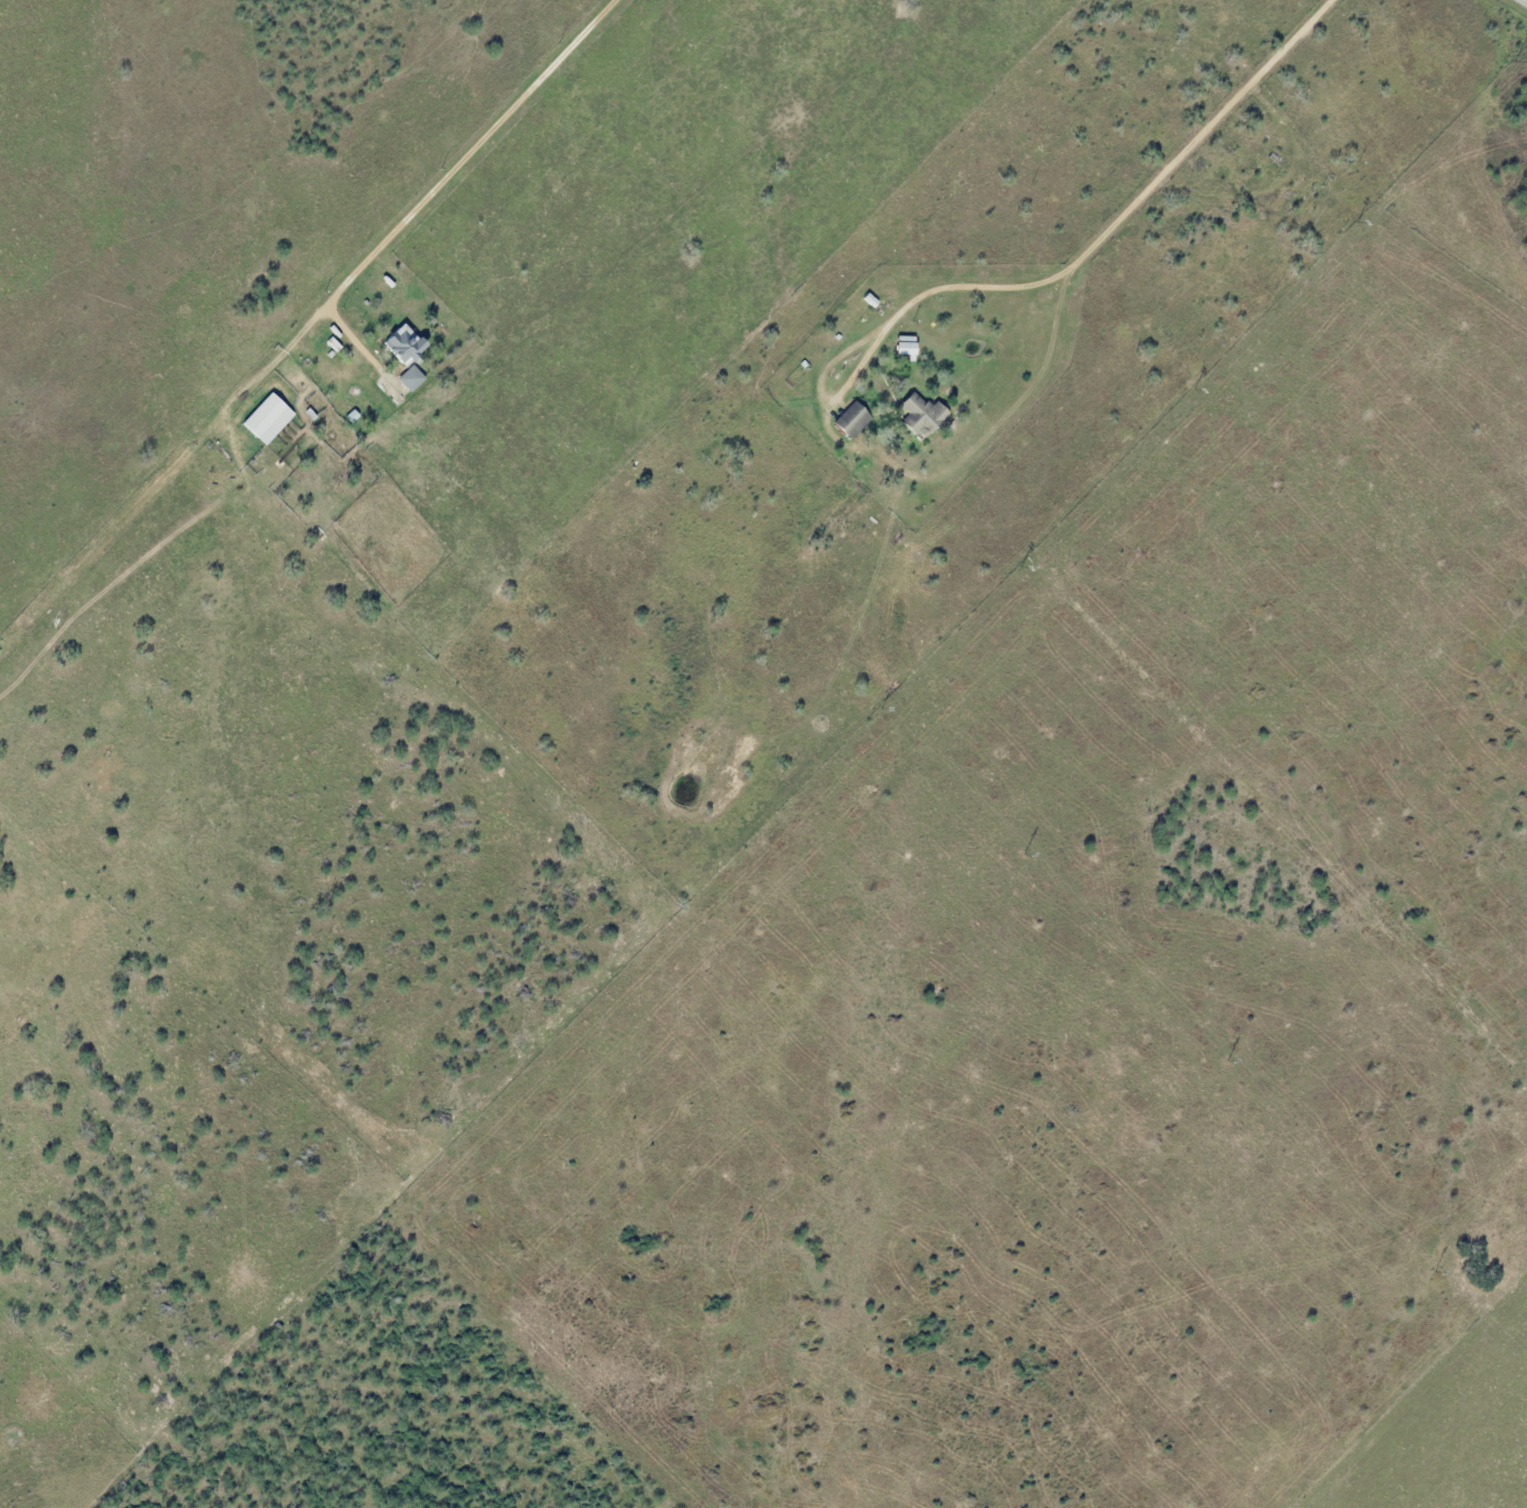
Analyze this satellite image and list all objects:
building: (1287, 194)
building: (407, 354)
building: (921, 414)
building: (268, 419)
building: (852, 420)

